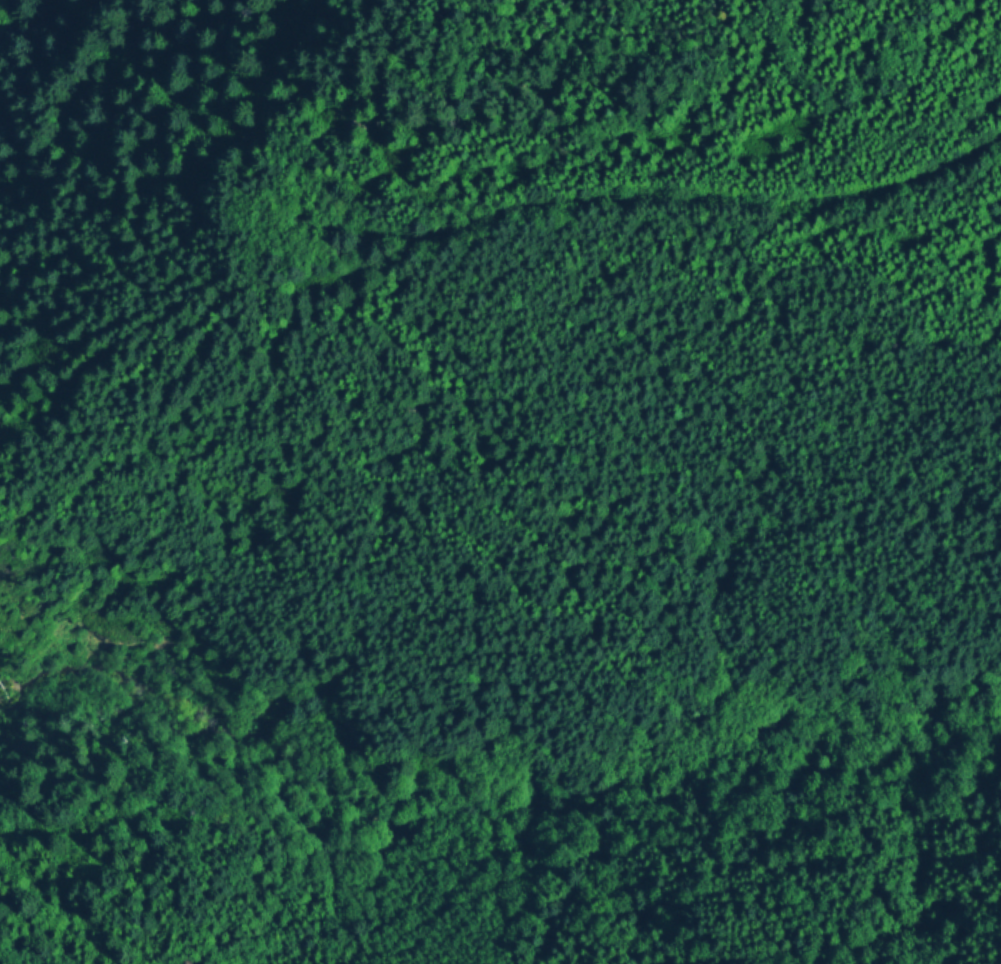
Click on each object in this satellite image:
road: (658, 194)

